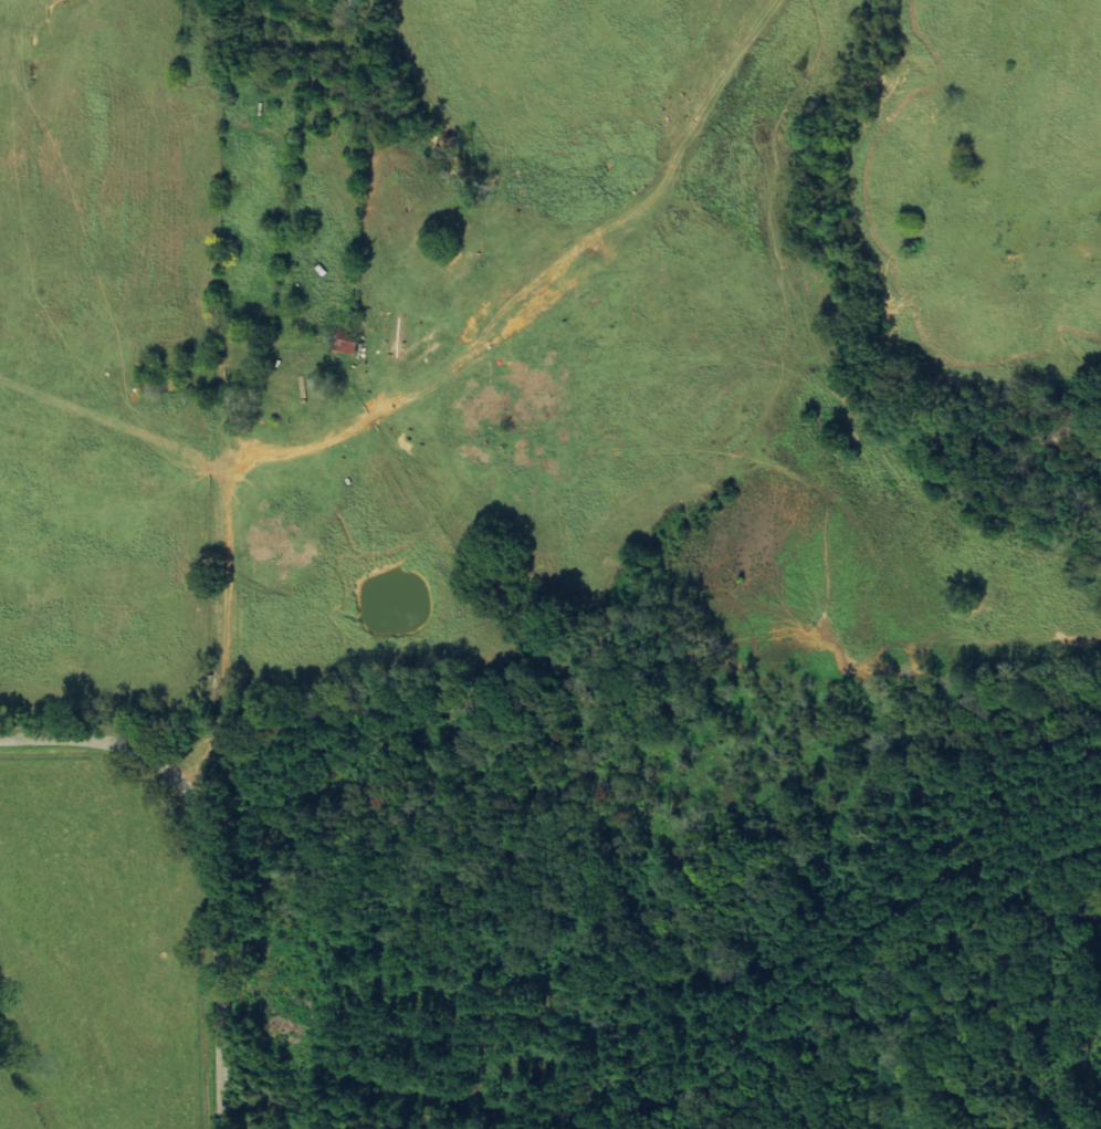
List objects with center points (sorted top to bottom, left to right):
road: (210, 855)

